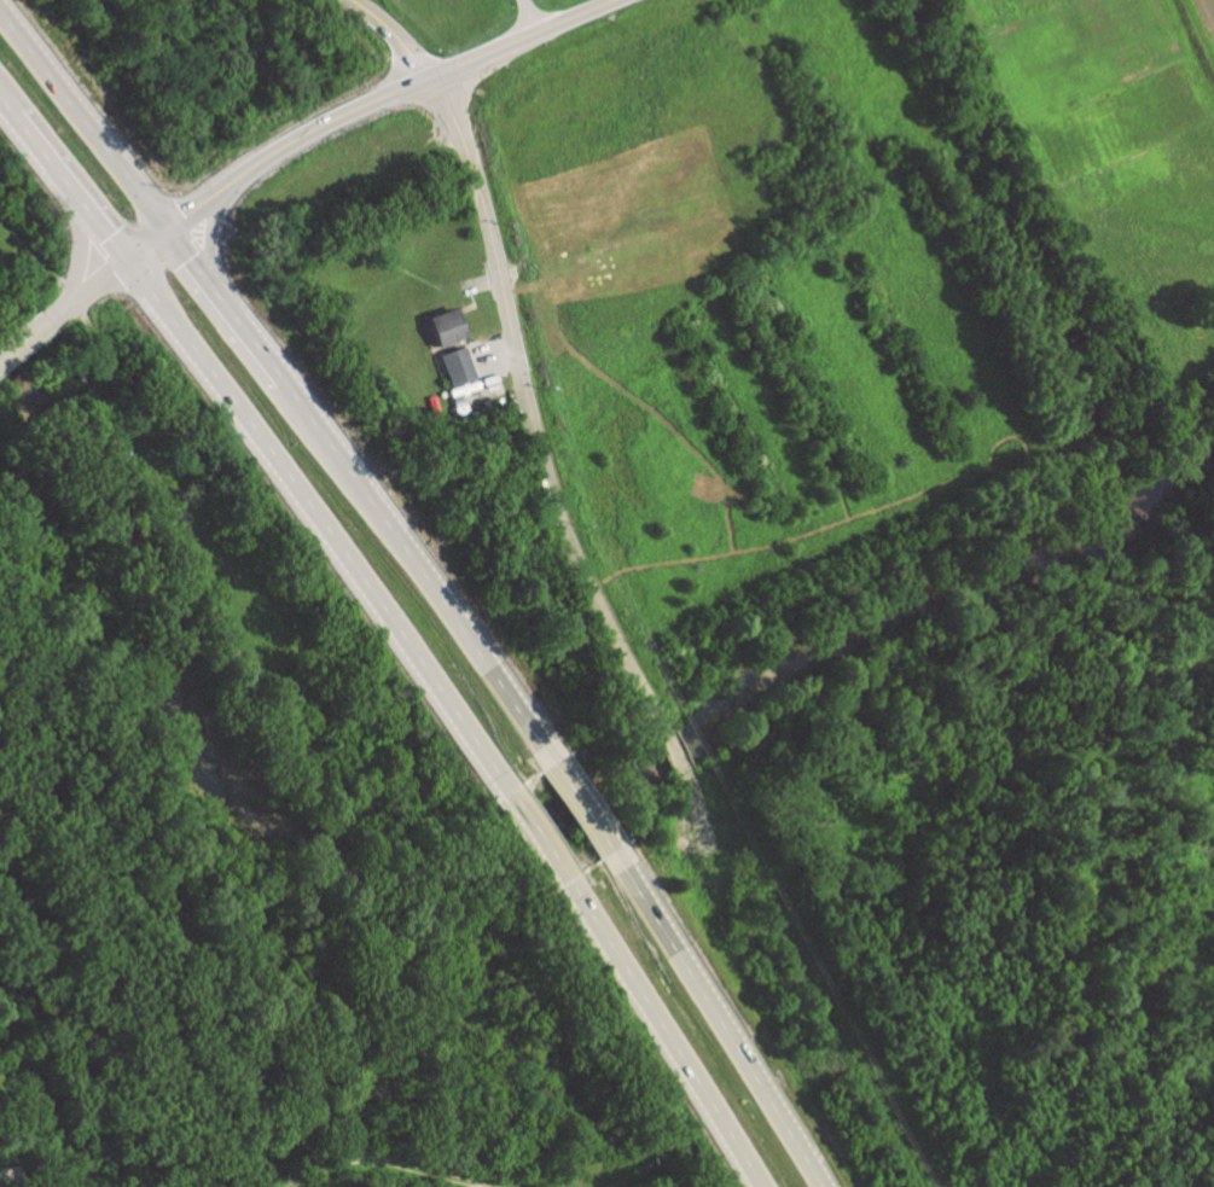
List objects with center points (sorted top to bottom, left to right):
road: (528, 16)
road: (412, 85)
road: (83, 121)
road: (64, 176)
road: (194, 210)
traffic signals: (168, 229)
road: (204, 234)
road: (147, 243)
road: (75, 245)
road: (187, 256)
traffic signals: (128, 257)
road: (97, 279)
road: (54, 309)
building: (451, 326)
road: (21, 332)
road: (243, 332)
road: (513, 355)
building: (459, 366)
road: (323, 523)
road: (416, 572)
road: (672, 752)
road: (582, 809)
road: (695, 817)
road: (538, 840)
road: (826, 978)
road: (718, 1019)
road: (666, 1035)

